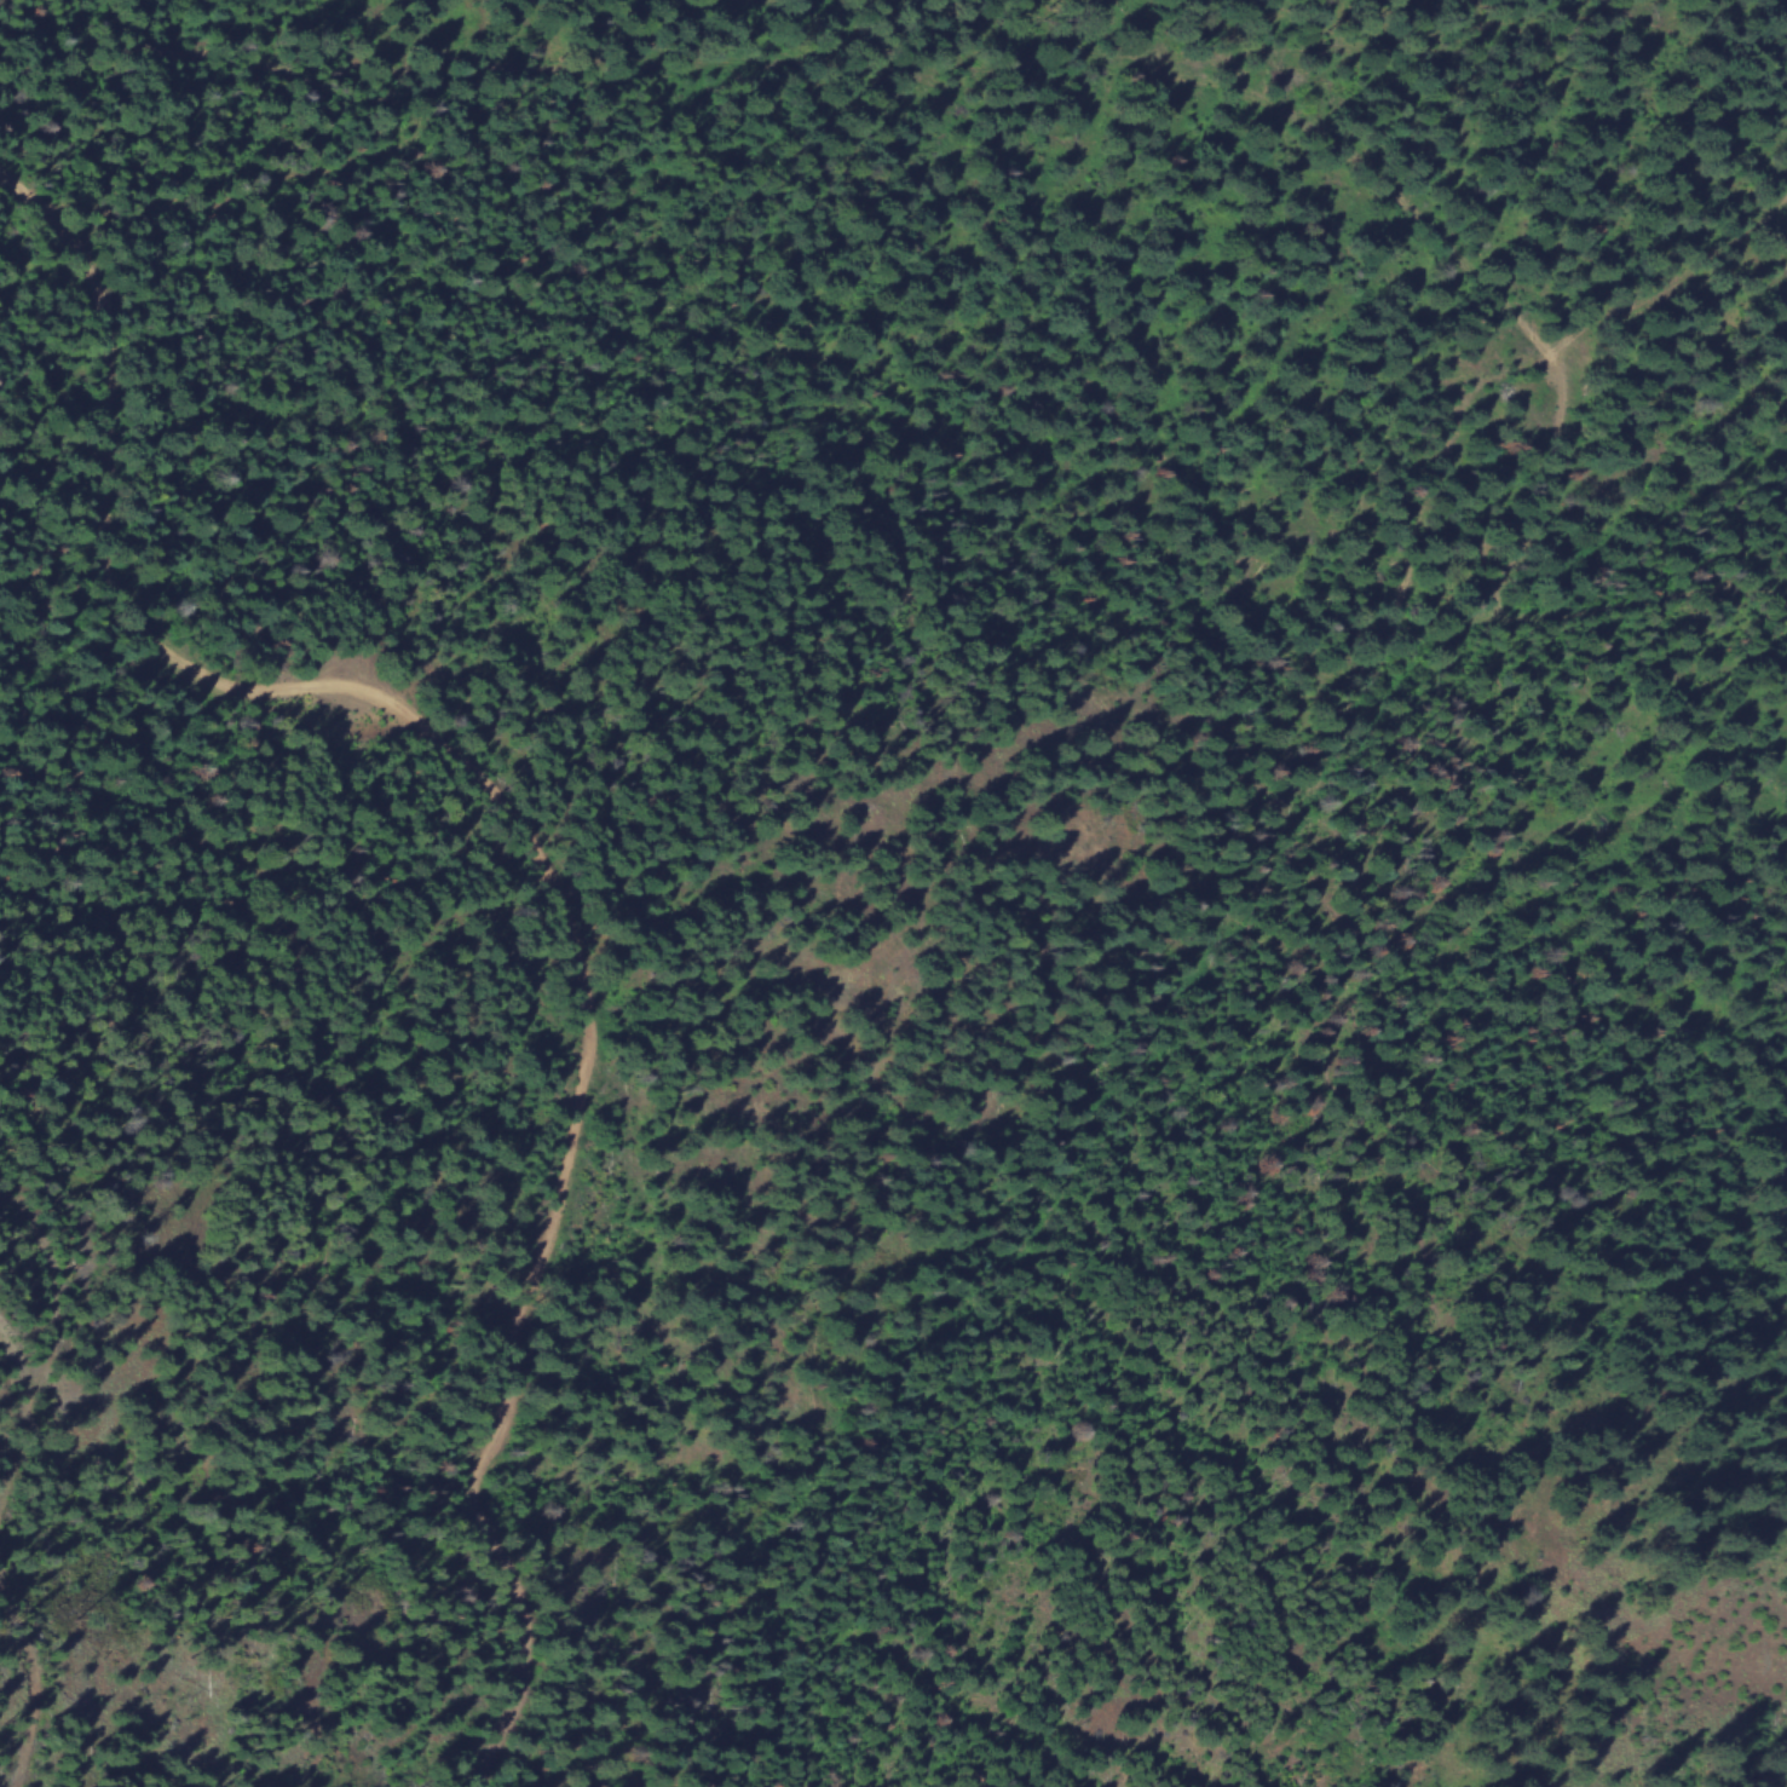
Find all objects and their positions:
road: (517, 888)

